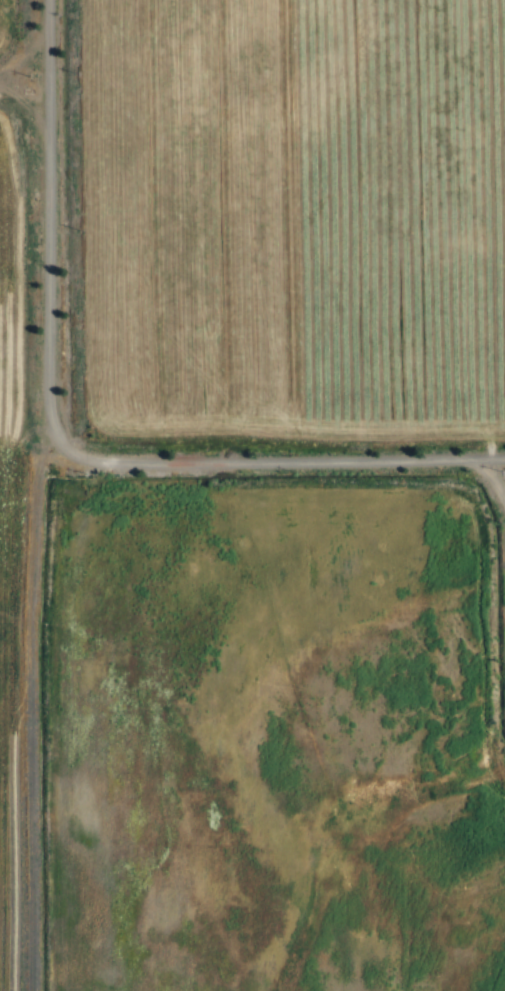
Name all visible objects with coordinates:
crop: (13, 26)
road: (31, 57)
crop: (299, 216)
road: (66, 442)
road: (492, 476)
crop: (23, 579)
crop: (193, 716)
crop: (408, 768)

